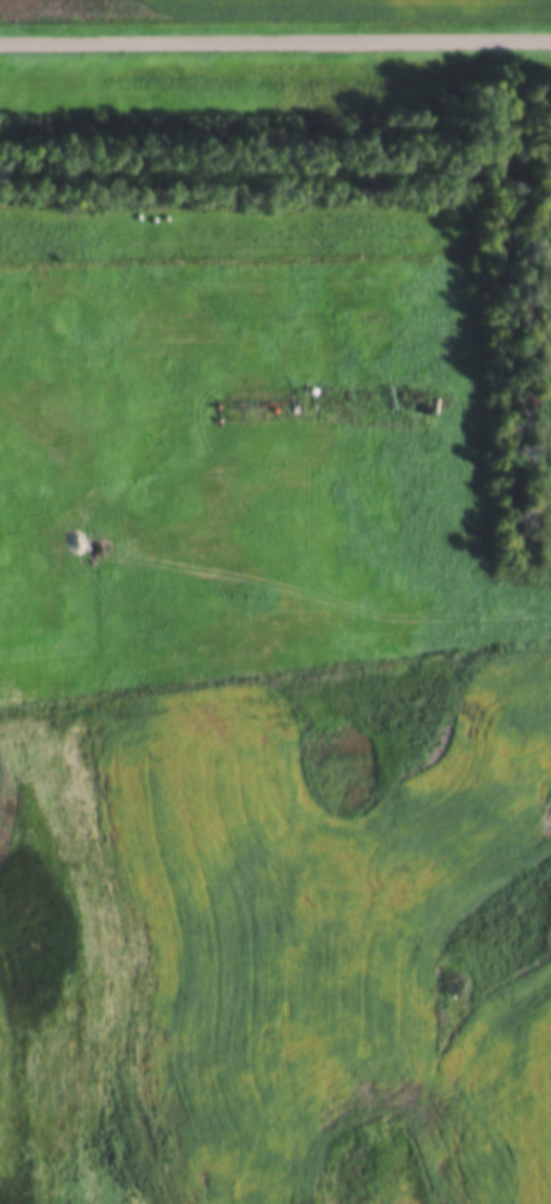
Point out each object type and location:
road: (274, 39)

